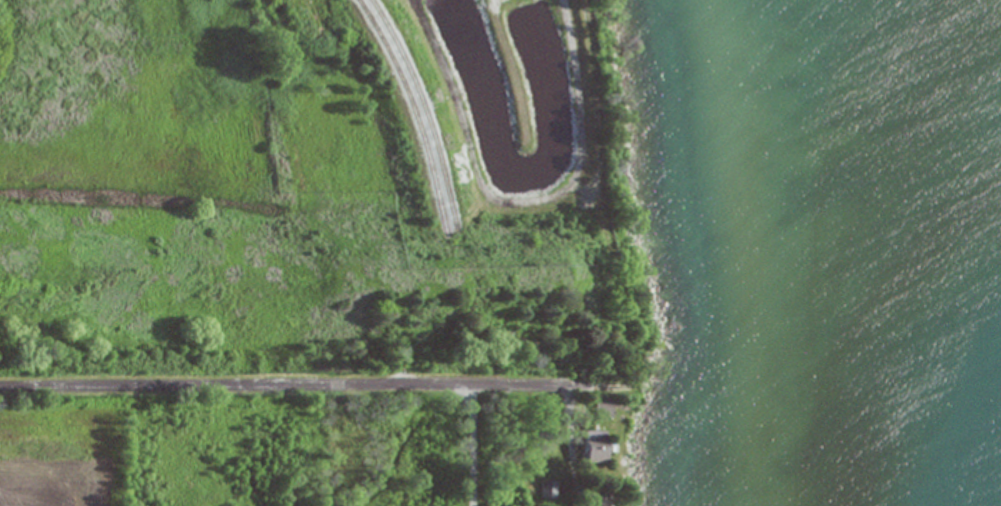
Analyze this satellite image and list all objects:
railway: (420, 111)
railway: (408, 112)
power plant: (314, 216)
road: (284, 385)
building: (601, 408)
building: (591, 445)
road: (471, 446)
building: (545, 489)

